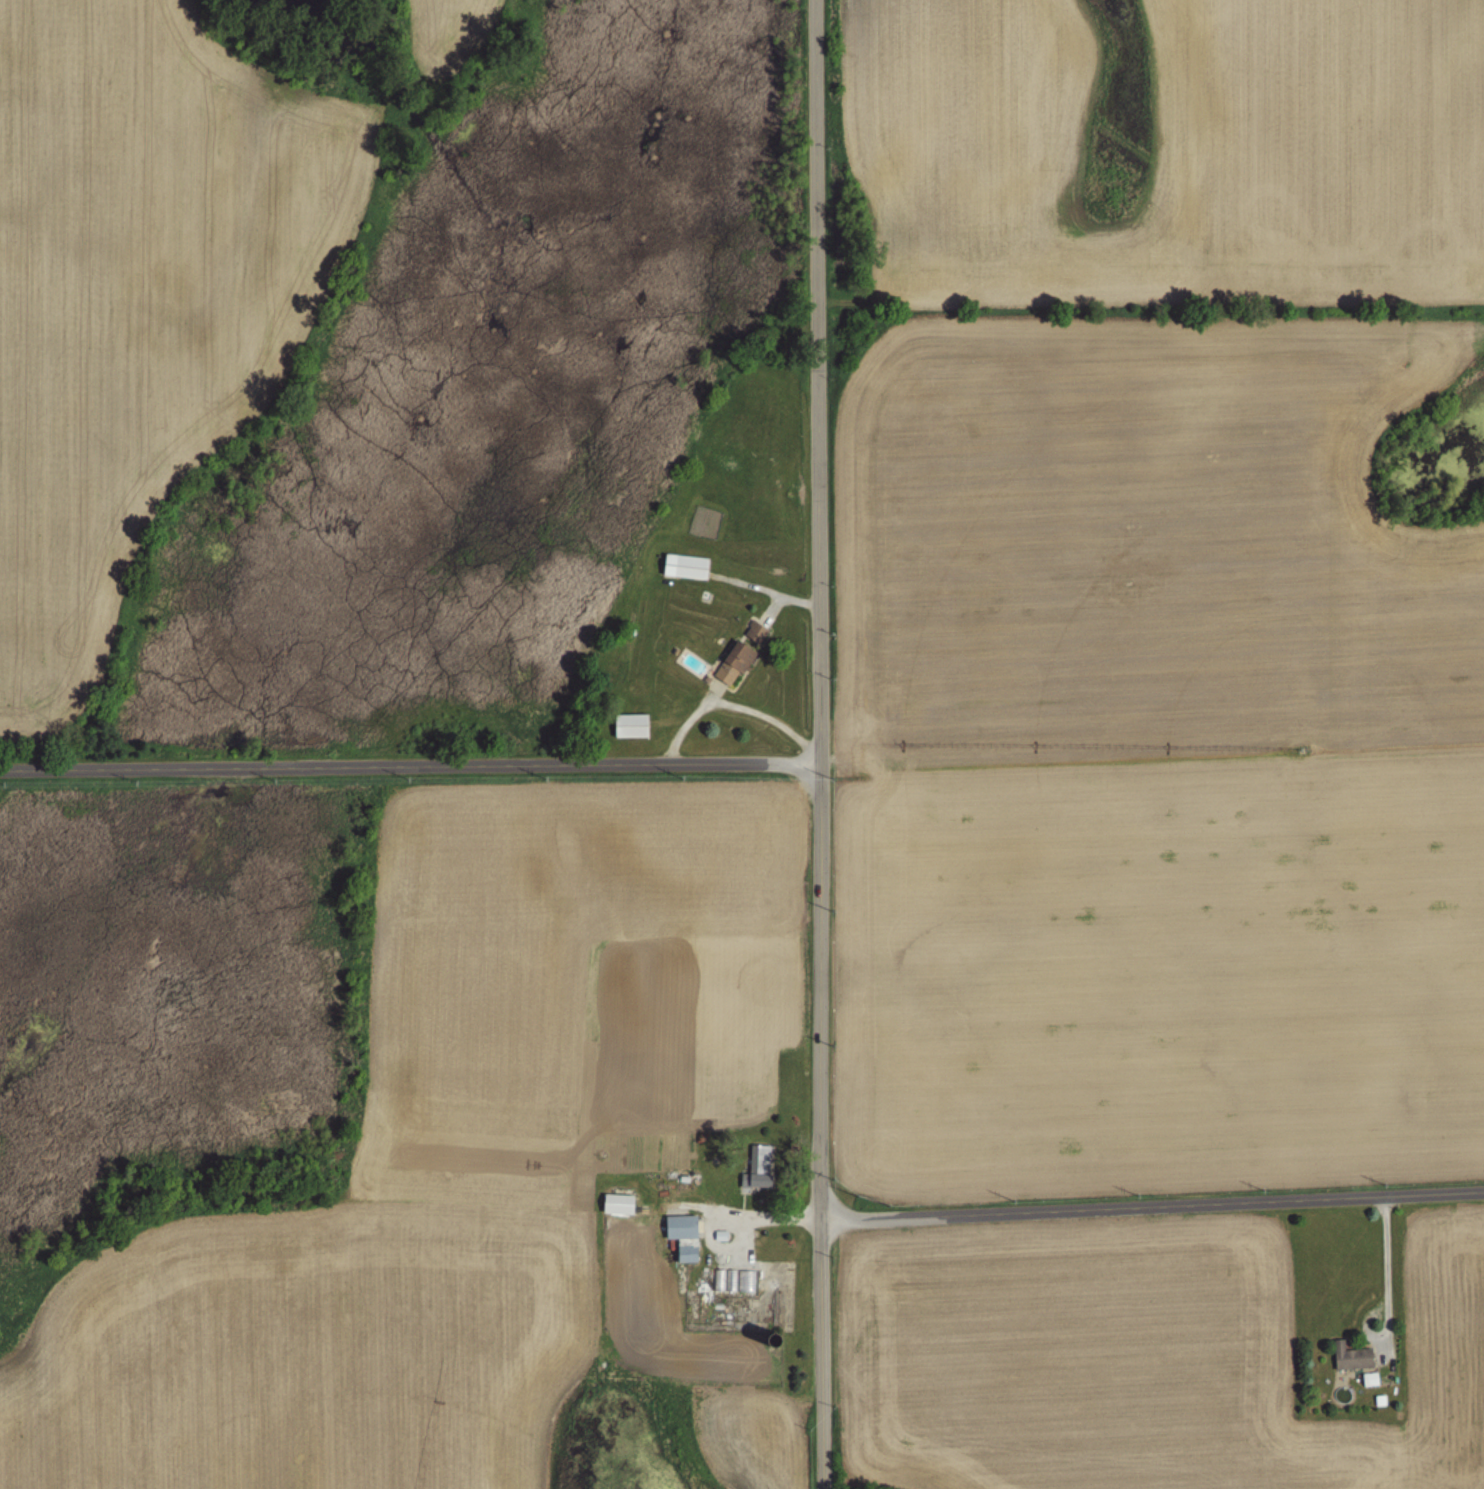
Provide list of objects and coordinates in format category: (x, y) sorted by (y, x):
building: (685, 567)
building: (756, 634)
building: (734, 664)
building: (631, 726)
road: (818, 744)
road: (409, 764)
building: (760, 1166)
building: (618, 1203)
road: (1154, 1206)
building: (684, 1236)
building: (1352, 1356)

